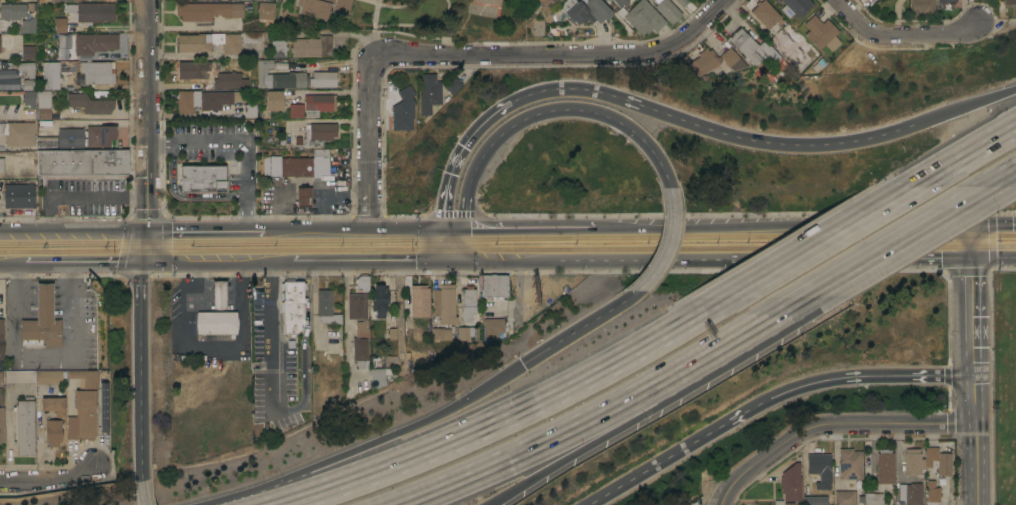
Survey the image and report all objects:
building: (53, 0)
building: (606, 0)
building: (947, 0)
building: (489, 1)
building: (778, 1)
building: (621, 2)
building: (682, 2)
building: (1010, 2)
building: (544, 3)
building: (798, 6)
building: (922, 6)
building: (322, 7)
building: (208, 10)
building: (586, 10)
building: (668, 10)
building: (95, 12)
building: (266, 12)
building: (766, 13)
building: (18, 16)
building: (642, 17)
building: (60, 24)
building: (820, 31)
road: (900, 34)
building: (253, 37)
building: (63, 41)
building: (95, 42)
building: (193, 43)
building: (230, 43)
building: (749, 45)
building: (311, 46)
building: (278, 48)
building: (28, 52)
building: (62, 53)
road: (556, 53)
building: (732, 59)
building: (704, 61)
building: (68, 65)
building: (27, 68)
building: (95, 72)
building: (262, 72)
building: (209, 74)
building: (51, 75)
building: (322, 78)
building: (287, 80)
building: (9, 84)
building: (26, 84)
building: (452, 85)
building: (429, 93)
building: (29, 98)
building: (41, 98)
building: (219, 99)
building: (188, 100)
building: (274, 100)
building: (90, 103)
building: (318, 104)
road: (965, 106)
building: (296, 109)
building: (403, 110)
building: (44, 112)
road: (538, 114)
road: (147, 115)
road: (720, 132)
building: (18, 133)
building: (319, 133)
building: (86, 135)
building: (46, 142)
road: (237, 143)
road: (371, 143)
road: (466, 147)
building: (82, 162)
building: (1, 164)
building: (300, 164)
road: (953, 167)
building: (203, 178)
road: (1000, 187)
building: (18, 195)
road: (81, 195)
building: (303, 196)
road: (995, 223)
traffic signals: (974, 224)
road: (783, 226)
road: (527, 228)
road: (375, 229)
traffic signals: (446, 229)
road: (454, 229)
traffic signals: (462, 229)
road: (73, 230)
road: (225, 230)
traffic signals: (147, 231)
road: (826, 235)
road: (911, 235)
railway: (507, 239)
road: (974, 242)
road: (445, 245)
road: (143, 247)
railway: (507, 248)
road: (665, 252)
road: (995, 259)
traffic signals: (974, 260)
road: (766, 261)
traffic signals: (444, 263)
road: (500, 263)
traffic signals: (140, 264)
road: (354, 264)
traffic signals: (460, 264)
road: (11, 265)
road: (82, 265)
road: (202, 265)
building: (363, 283)
building: (495, 285)
building: (219, 294)
building: (380, 300)
building: (421, 300)
building: (444, 303)
building: (468, 304)
building: (326, 307)
road: (785, 310)
building: (293, 312)
building: (359, 313)
road: (401, 314)
road: (975, 317)
building: (42, 320)
road: (345, 321)
building: (216, 322)
building: (493, 328)
road: (578, 329)
building: (465, 333)
building: (441, 334)
building: (2, 338)
road: (210, 346)
building: (360, 351)
road: (40, 356)
road: (139, 371)
road: (923, 374)
building: (19, 376)
building: (51, 376)
building: (84, 377)
building: (377, 377)
building: (1, 378)
road: (811, 382)
park: (1005, 387)
building: (1, 396)
building: (53, 405)
road: (534, 405)
building: (103, 406)
road: (282, 411)
building: (82, 416)
building: (2, 425)
road: (611, 425)
road: (842, 425)
building: (24, 426)
building: (53, 430)
road: (565, 432)
road: (976, 439)
road: (371, 443)
road: (671, 454)
building: (931, 456)
building: (913, 462)
building: (944, 465)
building: (885, 466)
building: (849, 475)
building: (820, 478)
road: (49, 480)
building: (791, 487)
road: (141, 492)
building: (911, 493)
building: (932, 493)
road: (726, 496)
building: (872, 496)
building: (688, 504)

